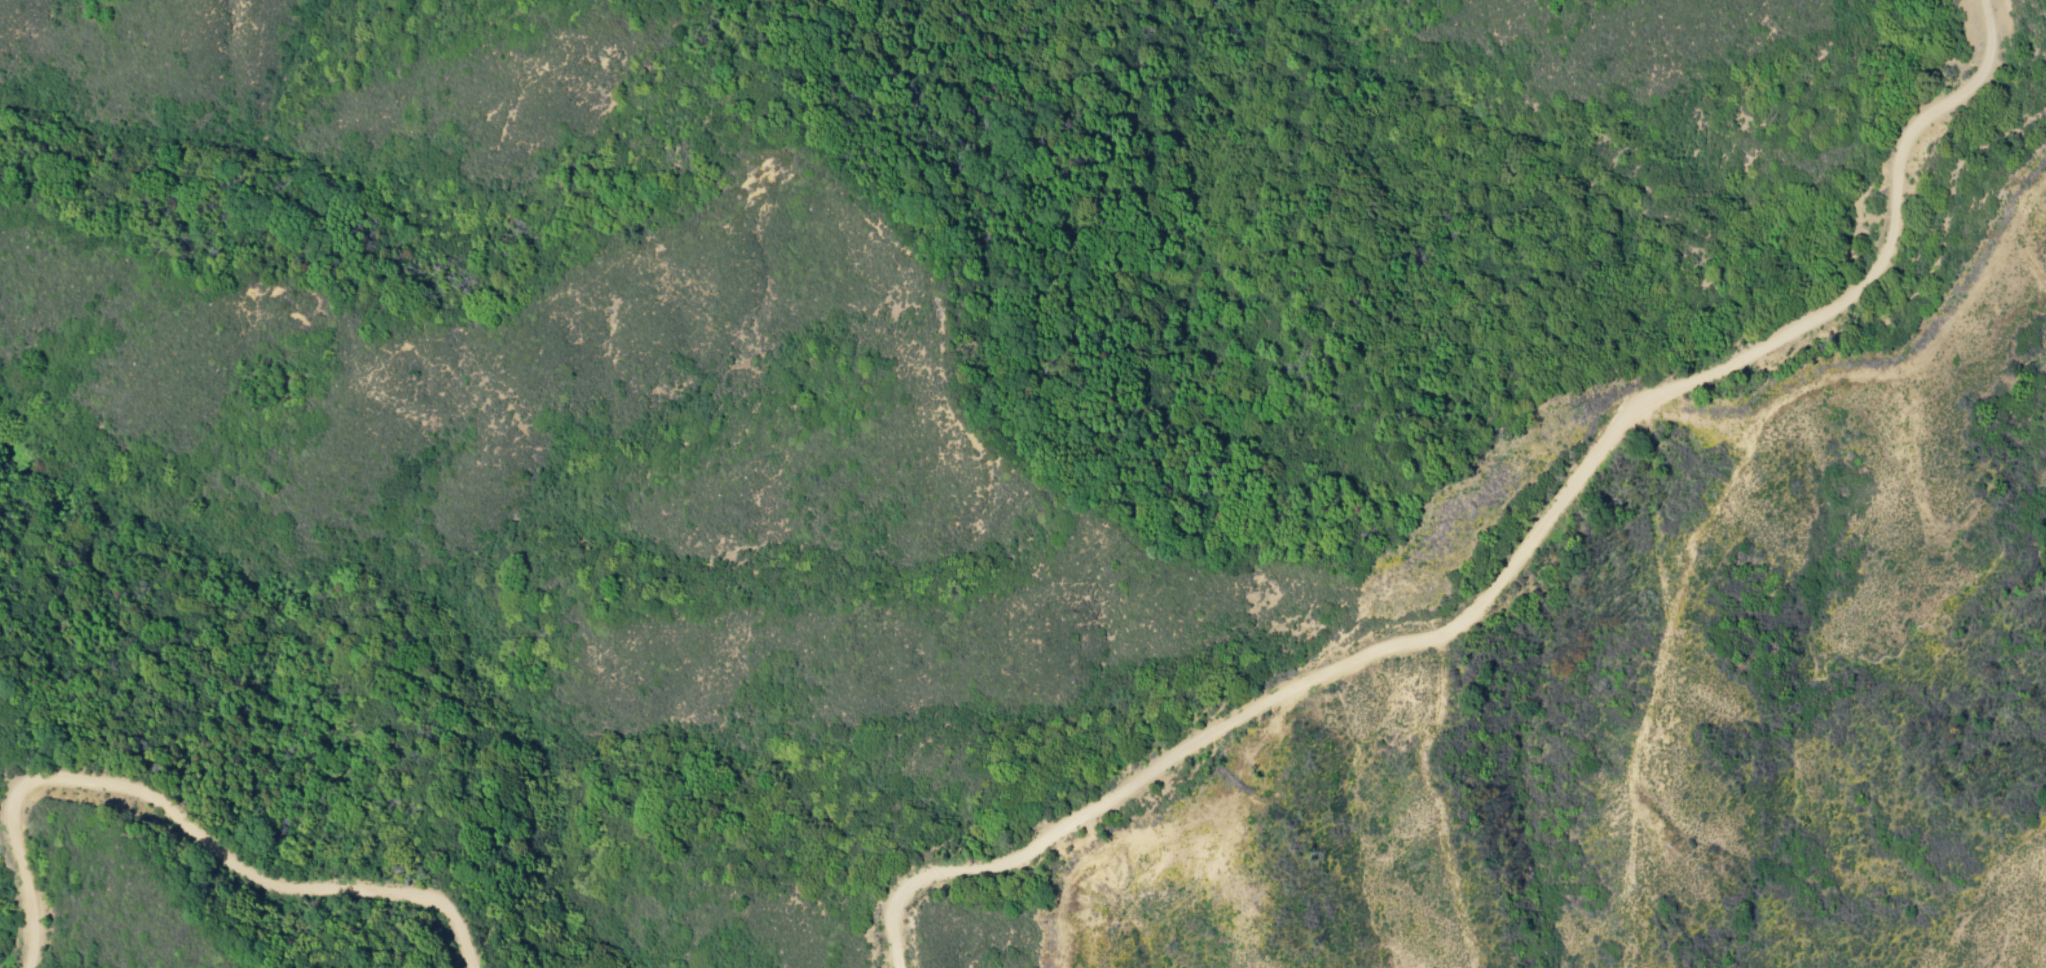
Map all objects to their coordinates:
road: (2027, 256)
road: (1513, 563)
road: (1668, 621)
road: (179, 822)
road: (1182, 841)

